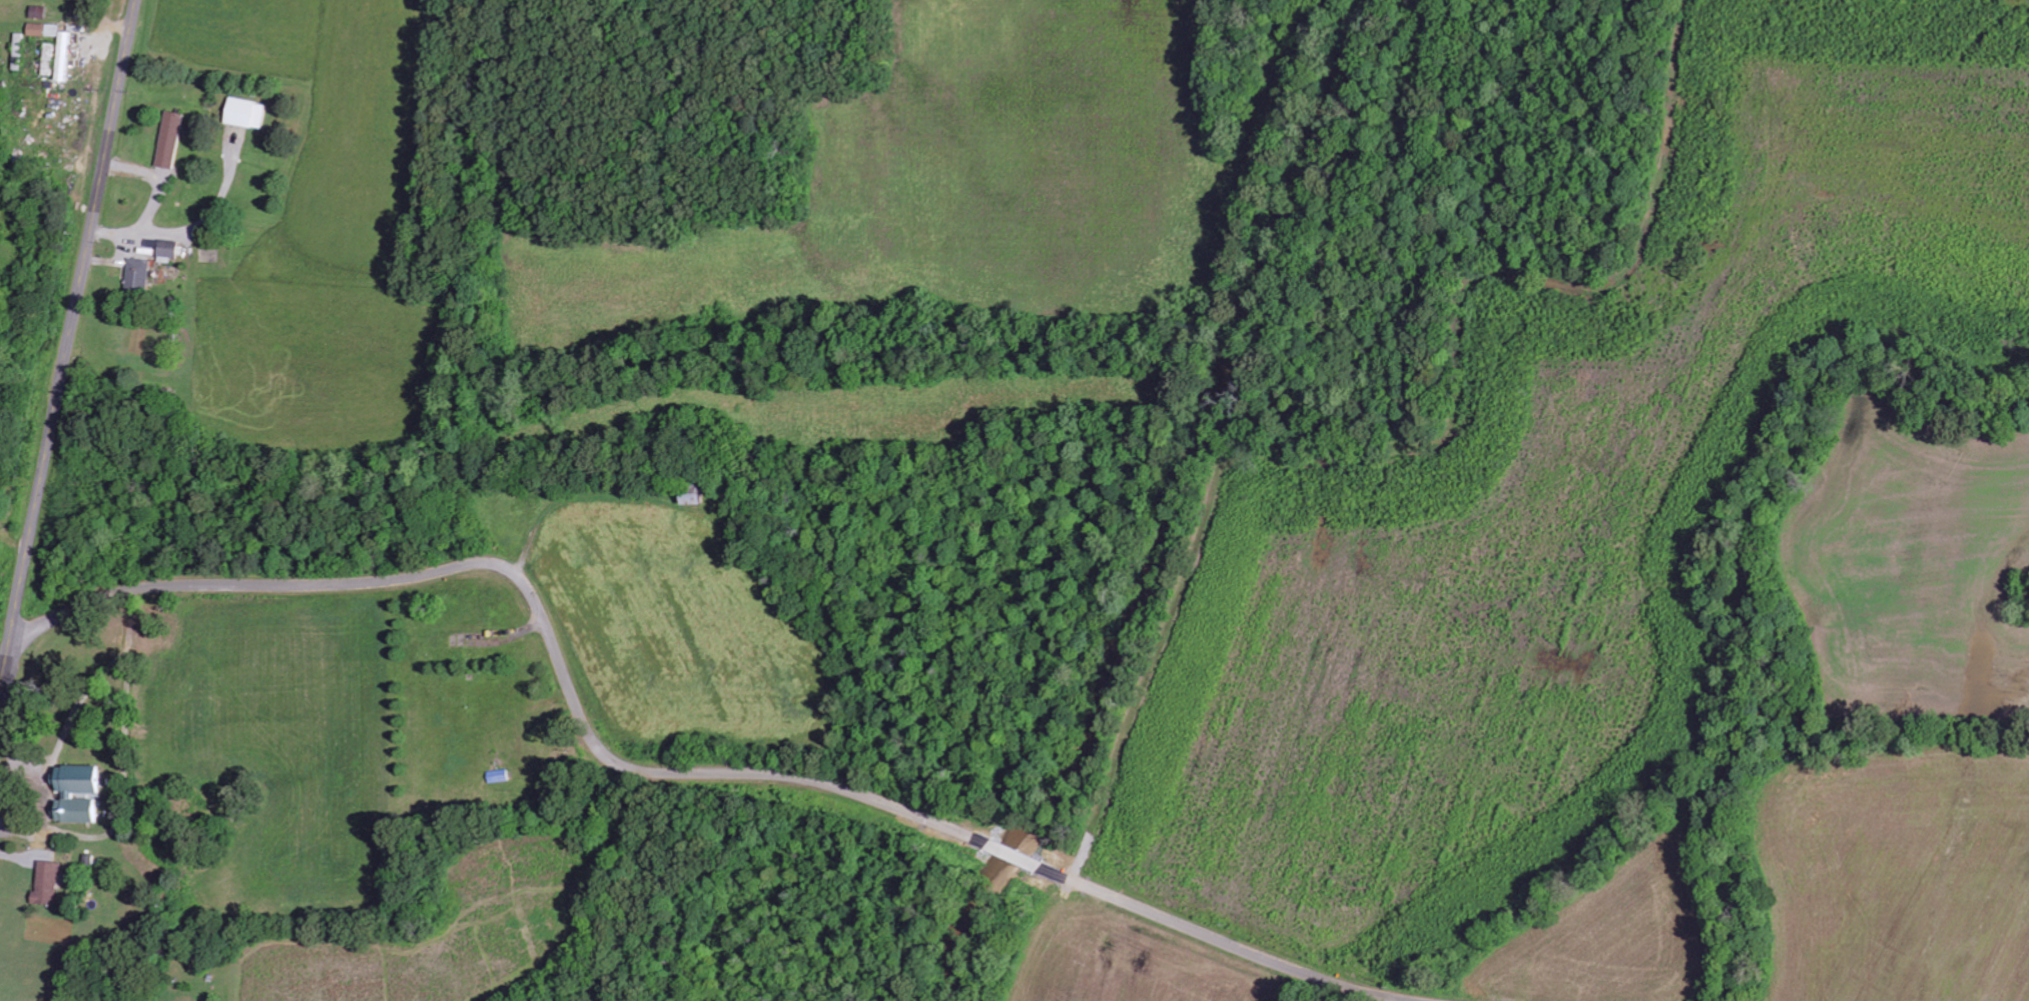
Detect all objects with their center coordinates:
building: (39, 29)
building: (249, 112)
building: (174, 139)
building: (173, 251)
building: (142, 275)
road: (68, 350)
road: (661, 775)
building: (84, 792)
road: (46, 802)
building: (51, 882)

